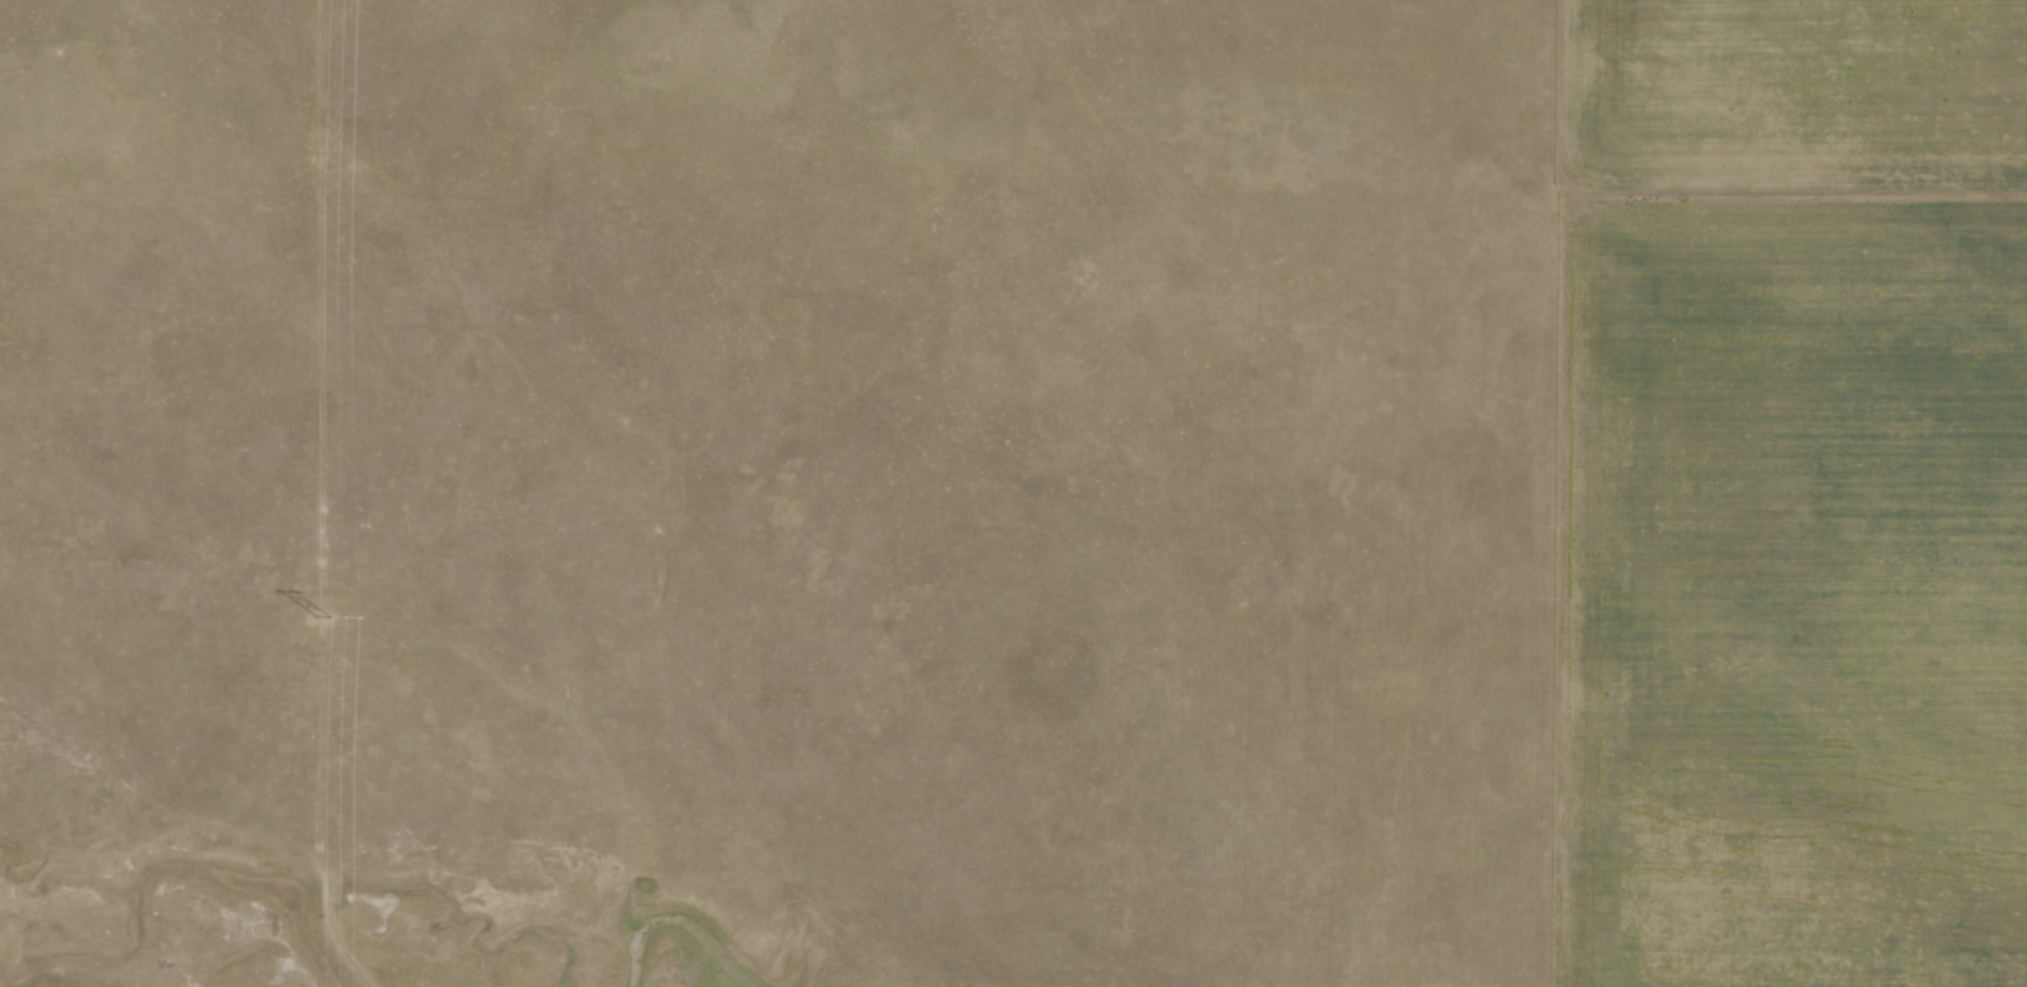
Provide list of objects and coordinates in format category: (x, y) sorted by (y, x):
power tower: (323, 158)
power tower: (321, 735)

